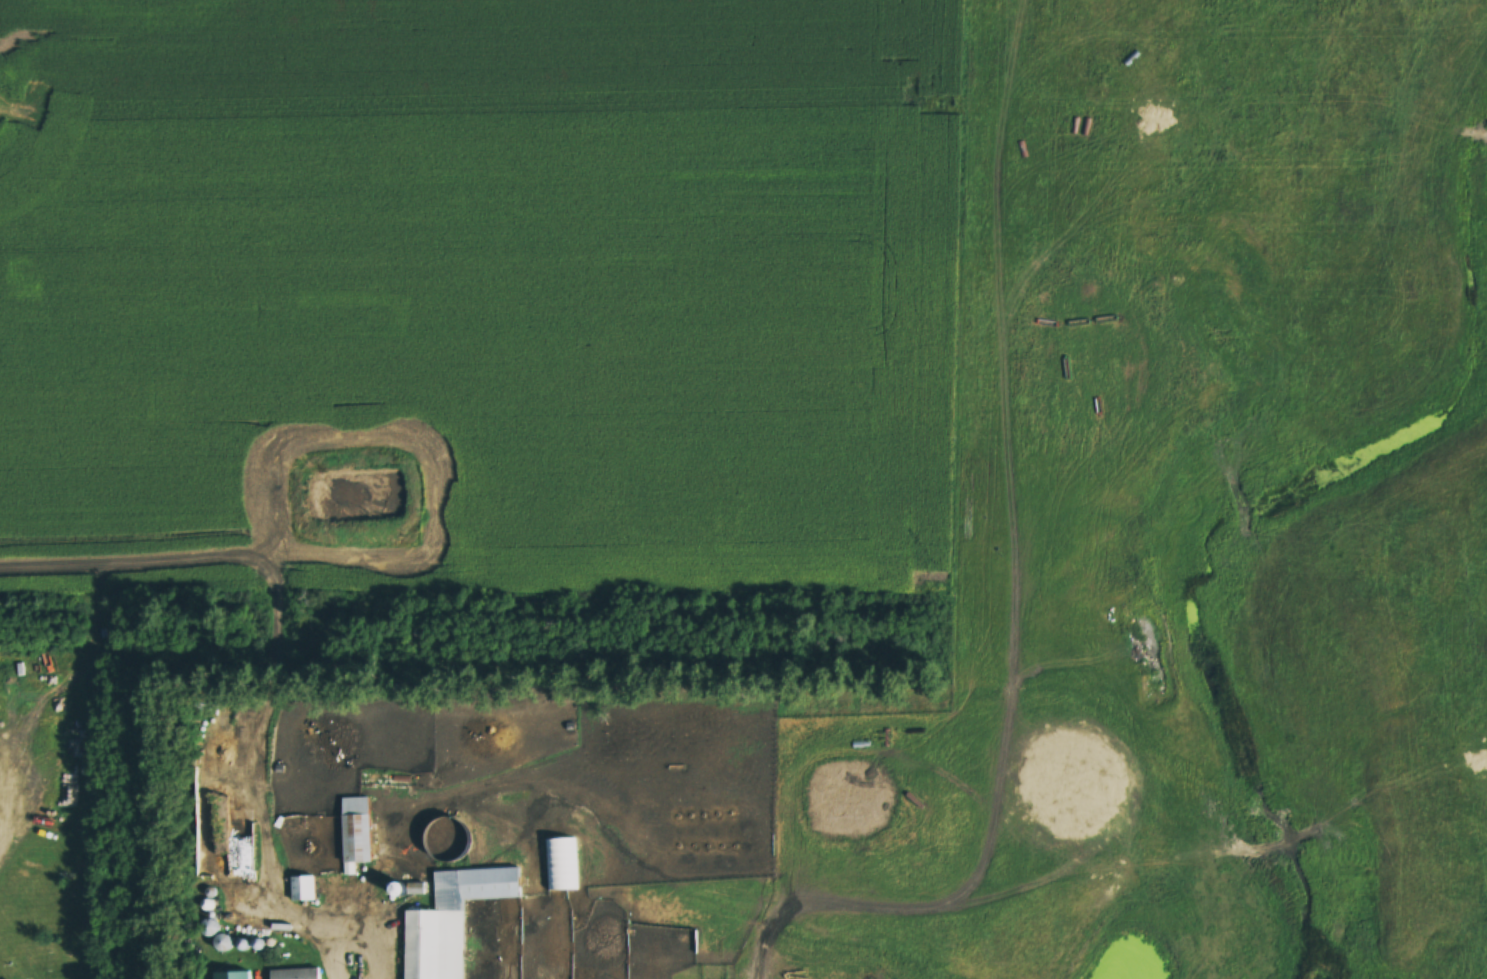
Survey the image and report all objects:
building: (398, 782)
building: (358, 831)
building: (562, 864)
building: (305, 889)
building: (453, 920)
building: (225, 942)
building: (297, 974)

